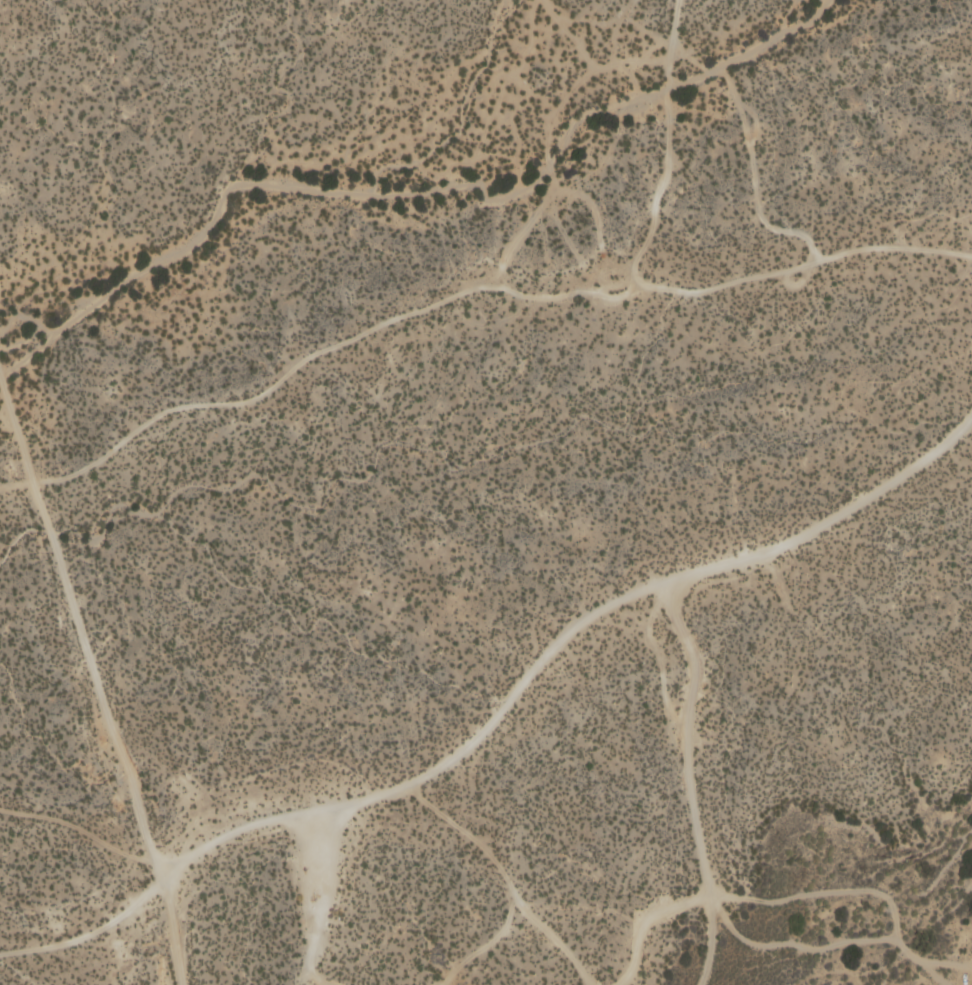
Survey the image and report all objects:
road: (670, 36)
road: (753, 183)
road: (795, 285)
road: (464, 290)
road: (95, 676)
road: (498, 711)
road: (705, 888)
road: (313, 906)
road: (709, 942)

